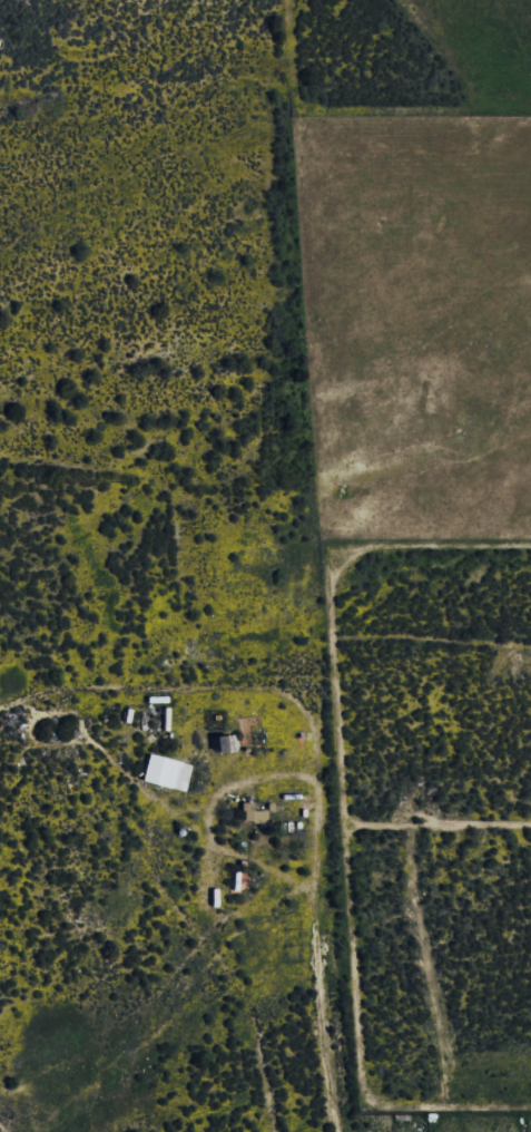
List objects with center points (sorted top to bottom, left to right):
building: (161, 771)
road: (334, 930)

